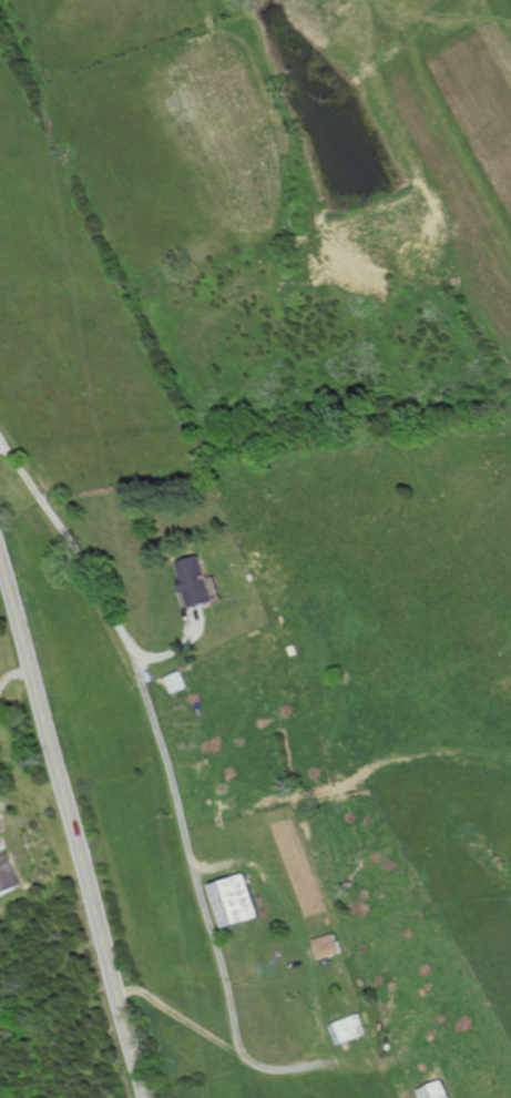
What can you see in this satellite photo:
road: (8, 454)
road: (83, 557)
building: (193, 581)
building: (175, 682)
road: (173, 785)
road: (70, 833)
building: (4, 876)
building: (229, 901)
road: (305, 939)
building: (326, 947)
building: (349, 1029)
building: (437, 1090)

